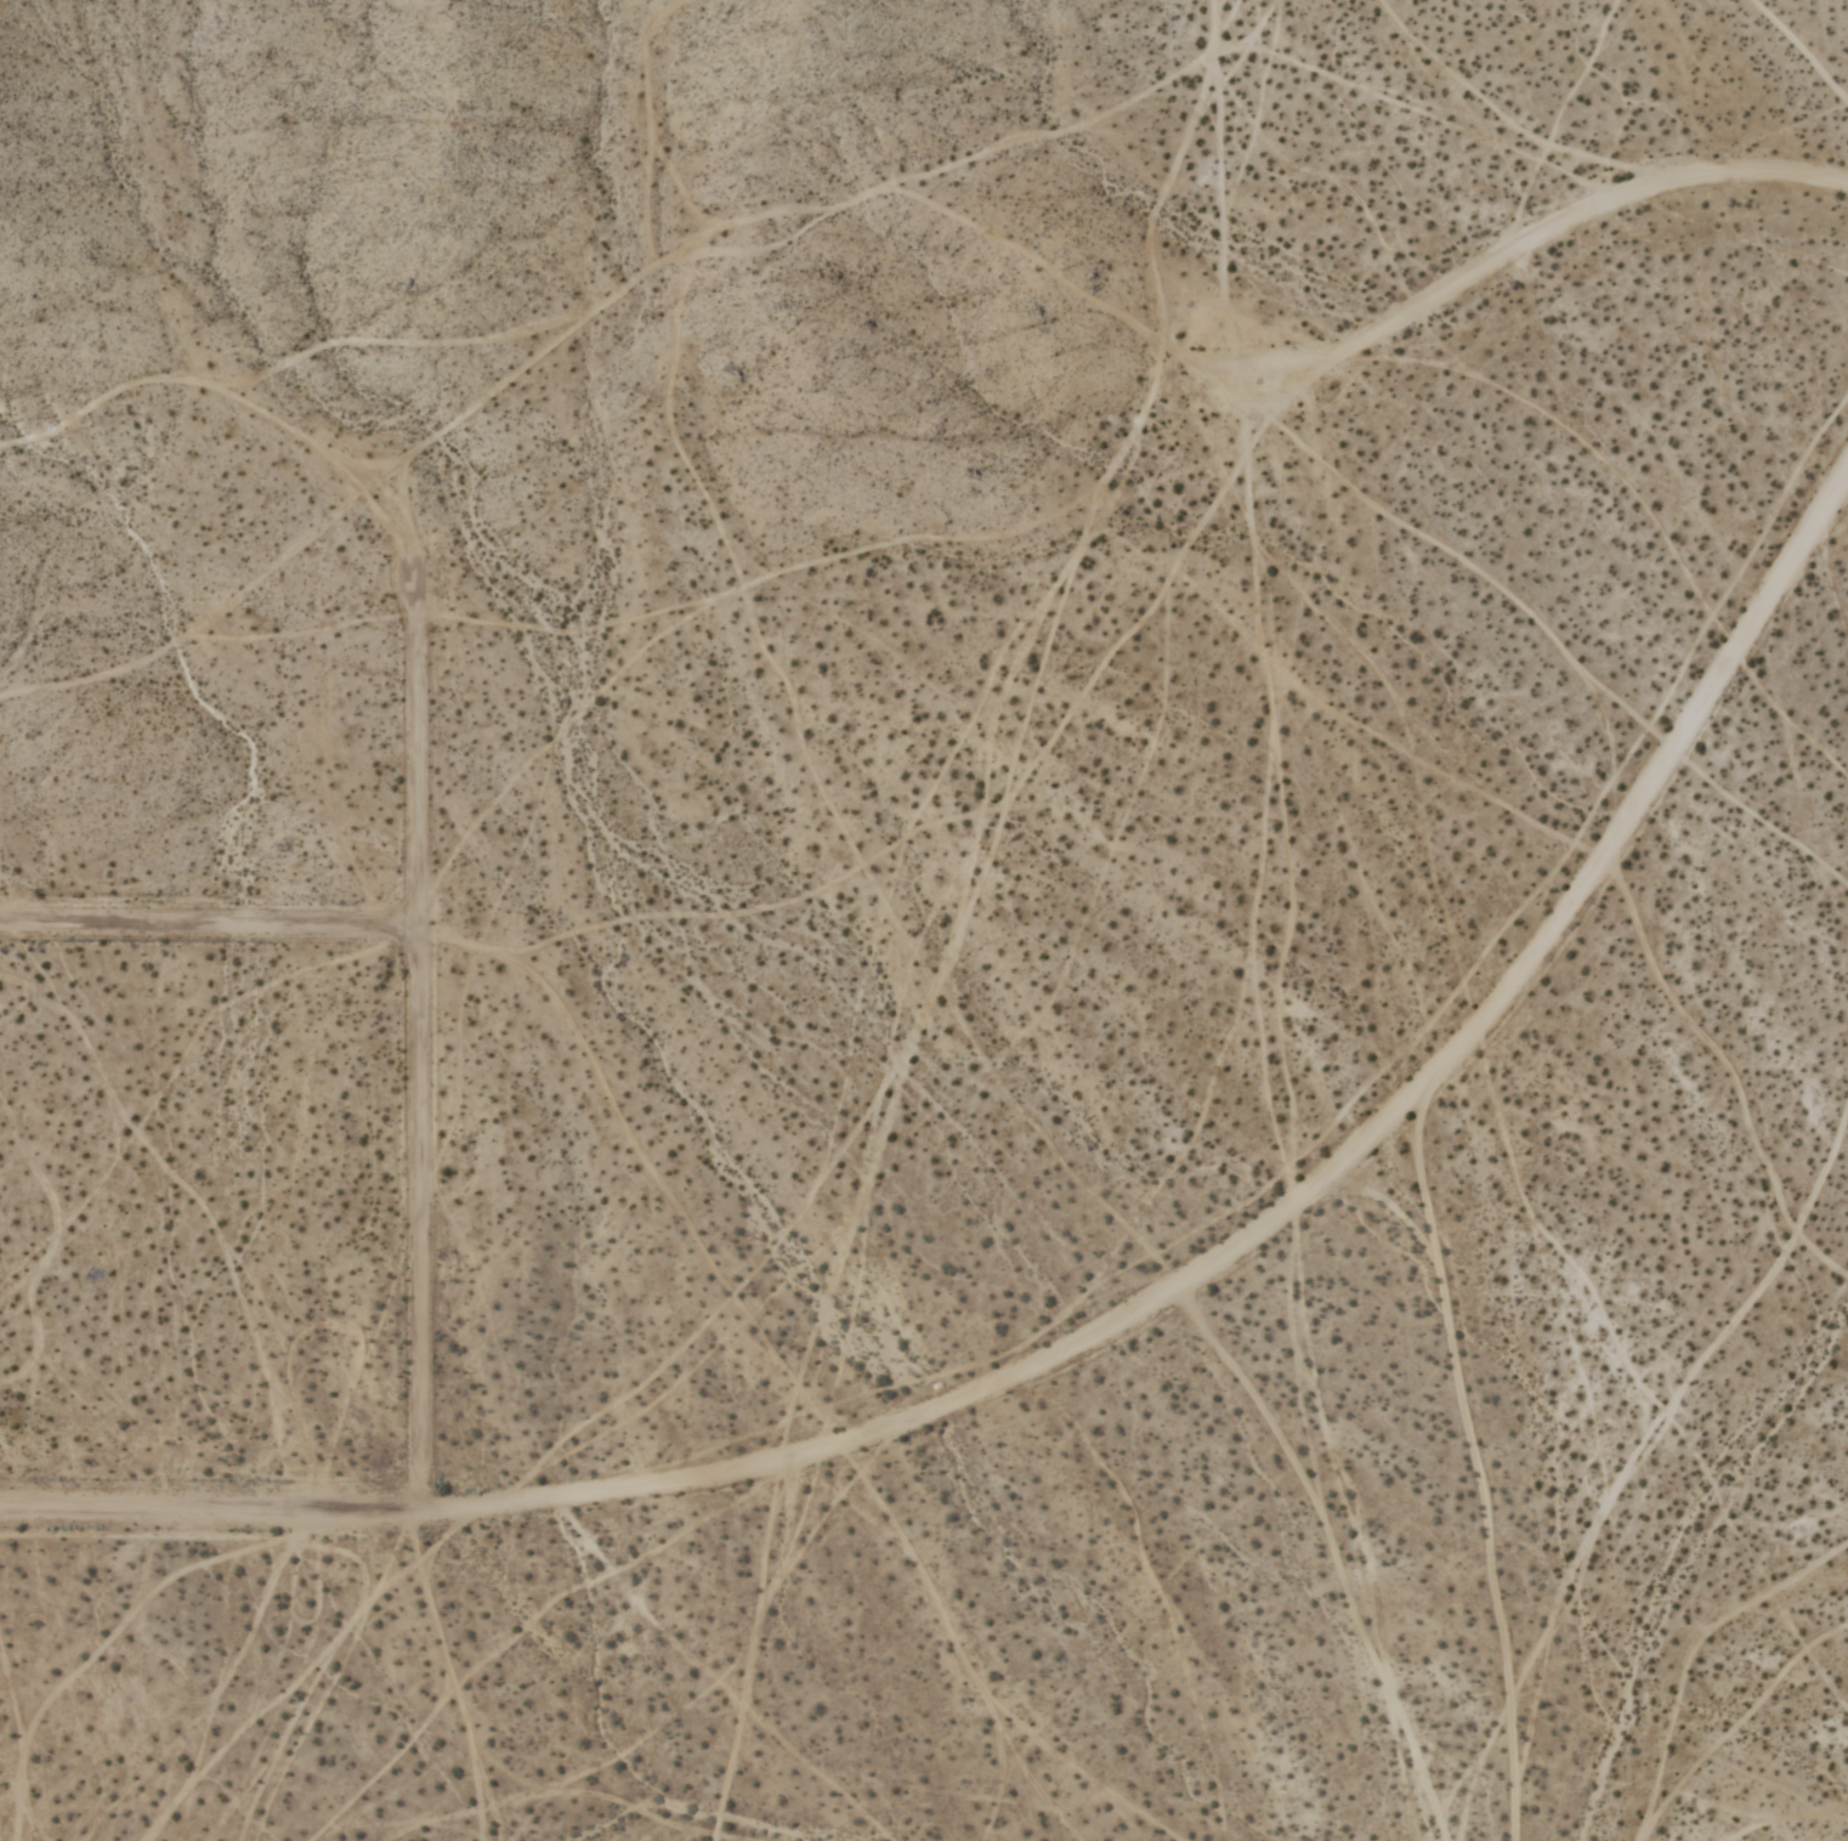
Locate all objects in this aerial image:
park: (835, 205)
road: (1521, 248)
road: (209, 927)
road: (420, 1044)
road: (1109, 1329)

